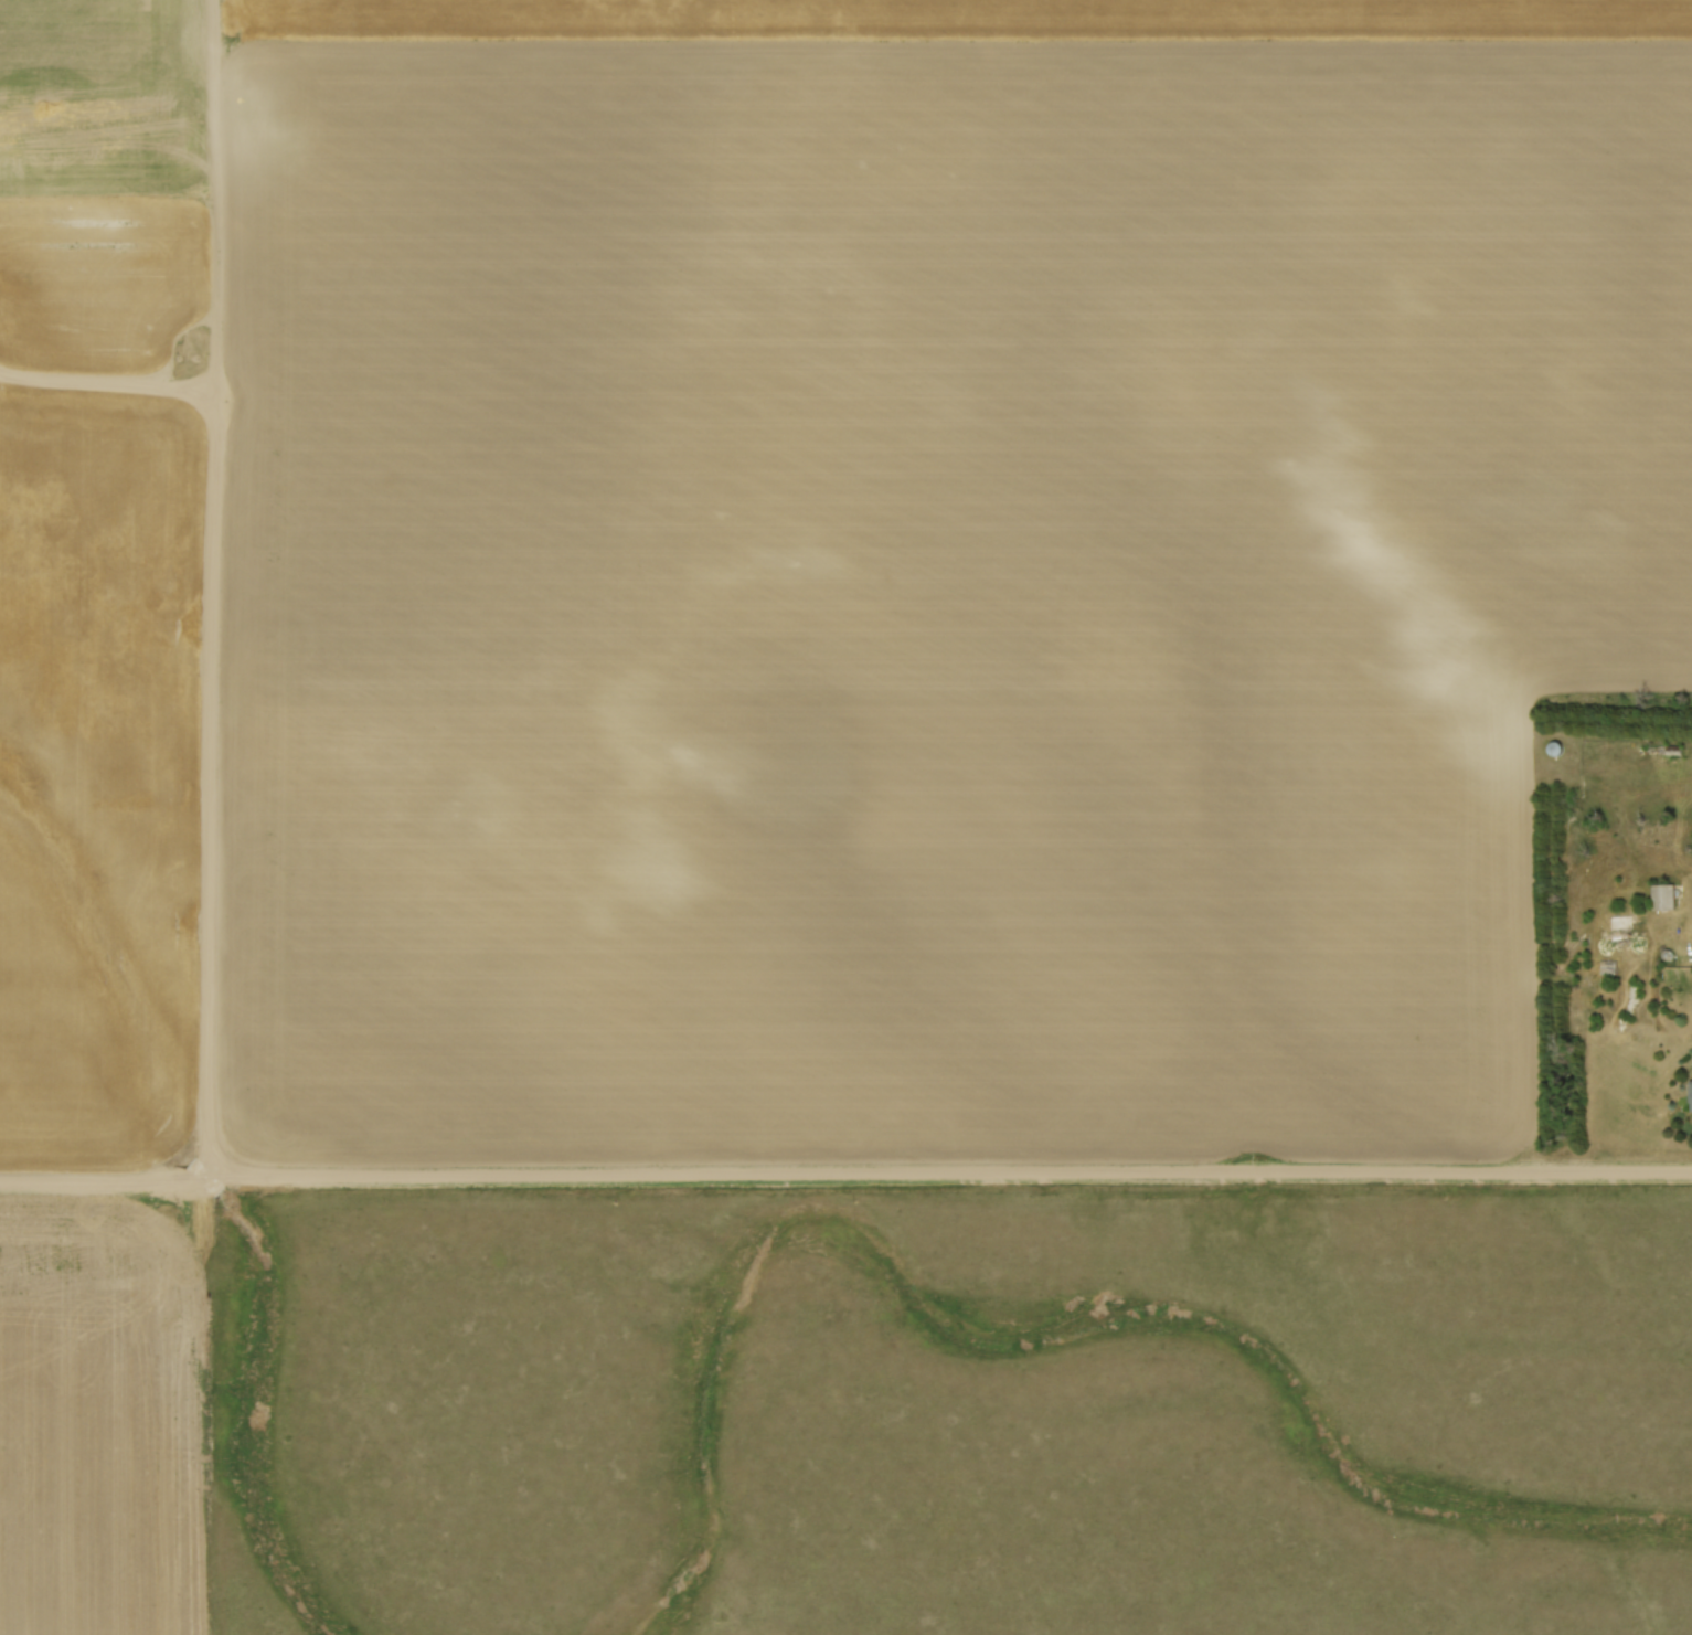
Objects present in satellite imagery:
crop: (890, 544)
road: (213, 681)
silo: (1556, 747)
building: (1674, 749)
crop: (97, 767)
building: (1664, 896)
building: (1618, 921)
building: (1608, 966)
building: (1691, 1096)
road: (845, 1172)
crop: (96, 1422)

